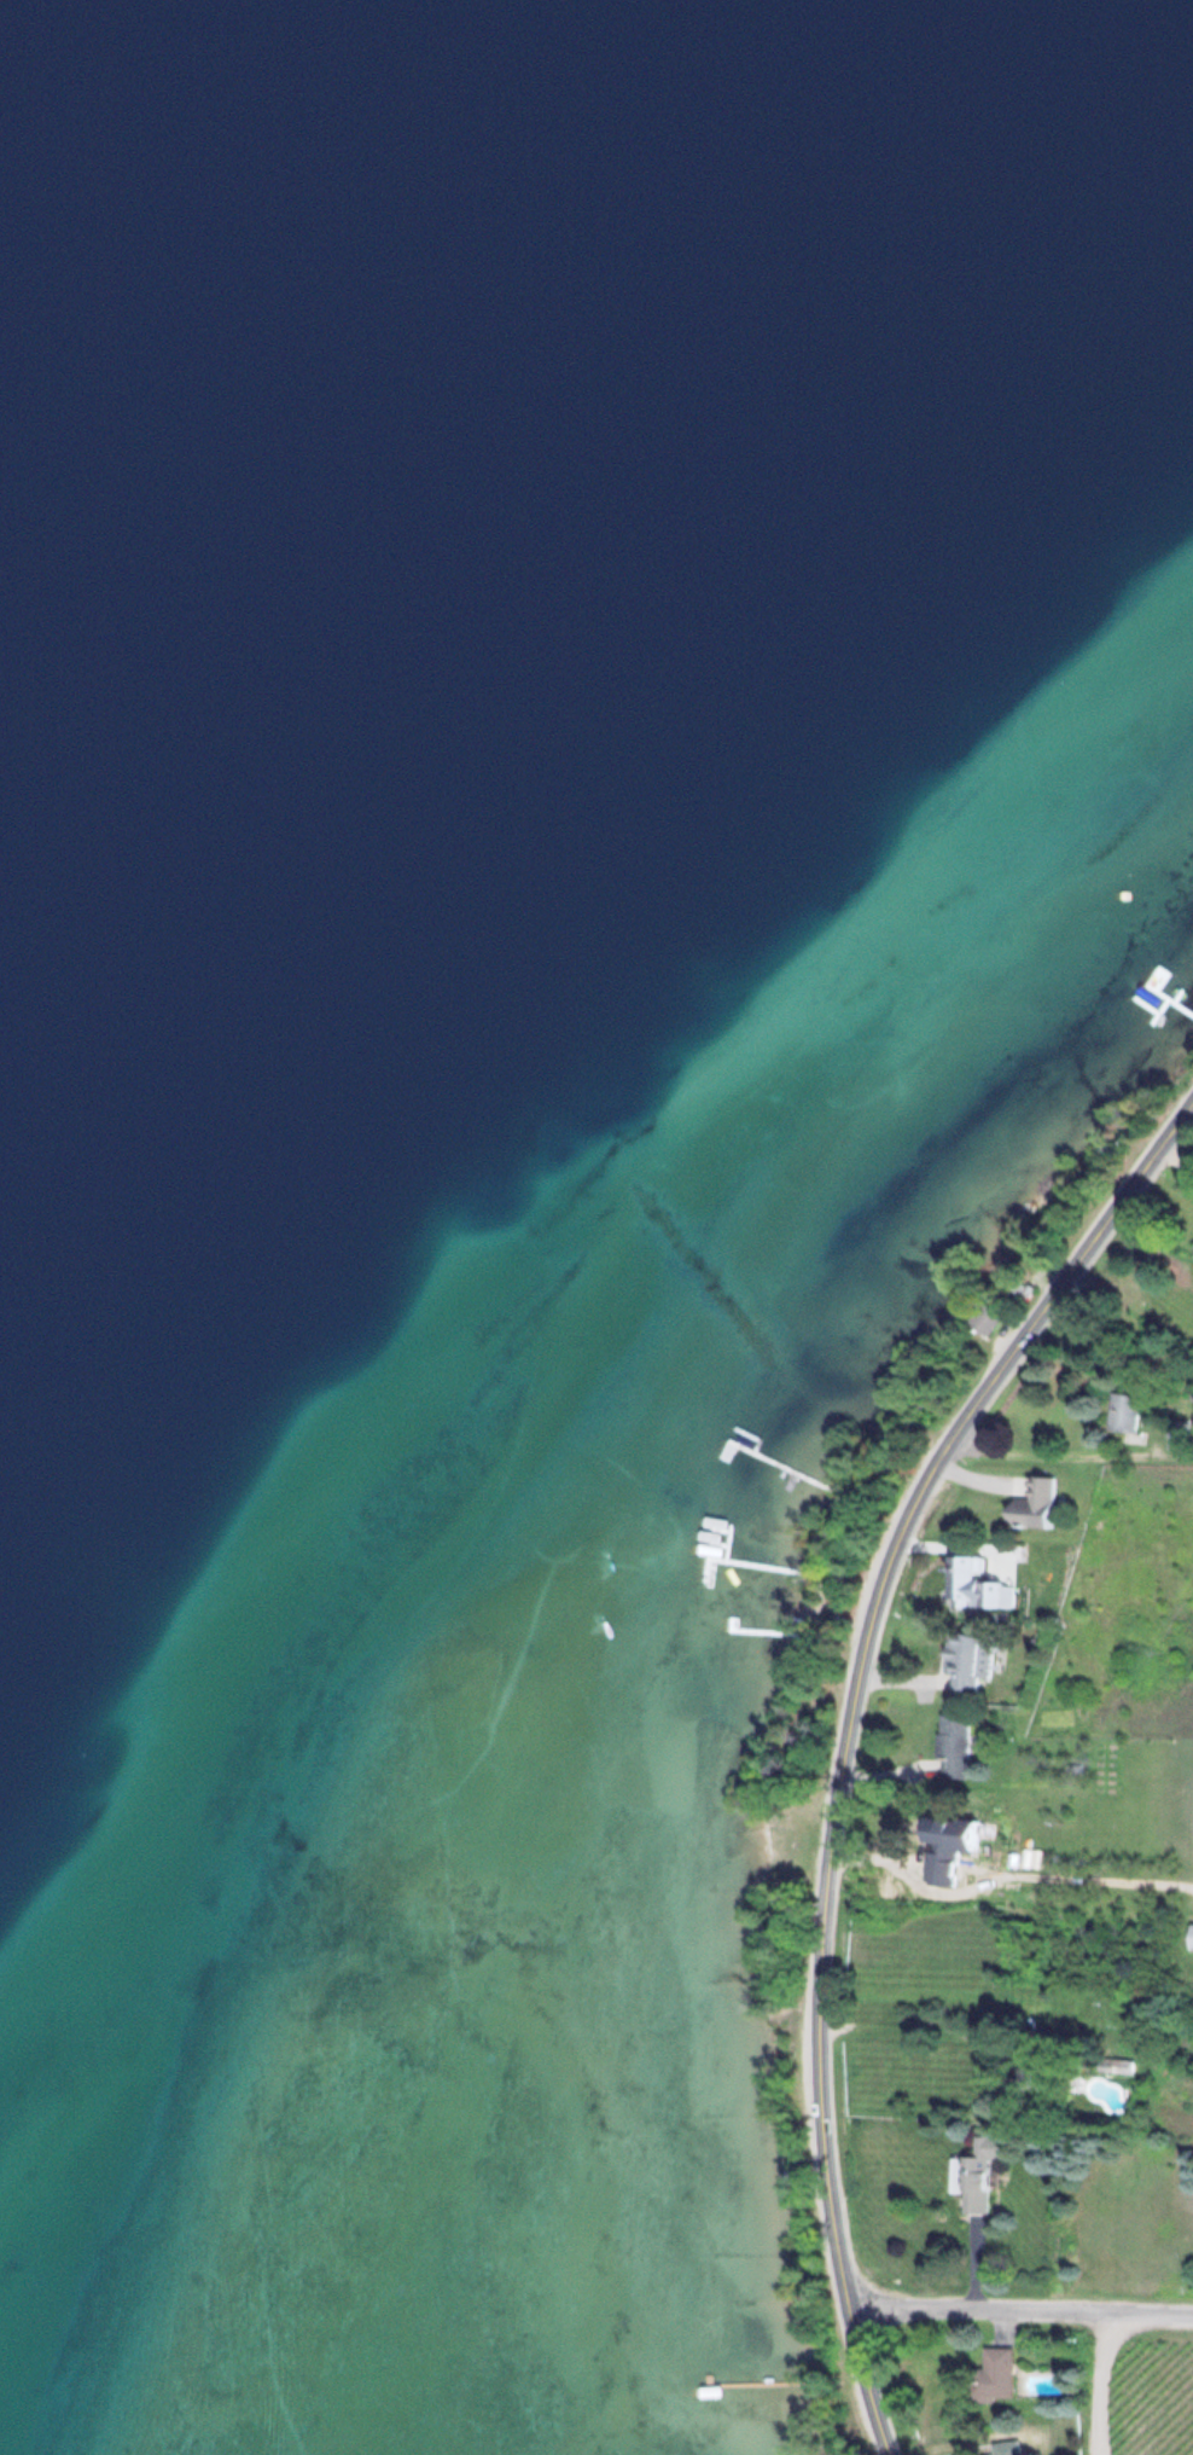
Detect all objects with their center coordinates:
building: (1192, 1242)
building: (1019, 1288)
building: (985, 1316)
building: (1124, 1411)
building: (1035, 1503)
park: (1128, 1610)
building: (967, 1660)
road: (850, 1735)
building: (954, 1745)
building: (952, 1833)
building: (1189, 1937)
park: (1187, 1987)
building: (1038, 2083)
building: (979, 2173)
road: (1020, 2308)
building: (991, 2375)
road: (1098, 2381)
building: (1006, 2448)

